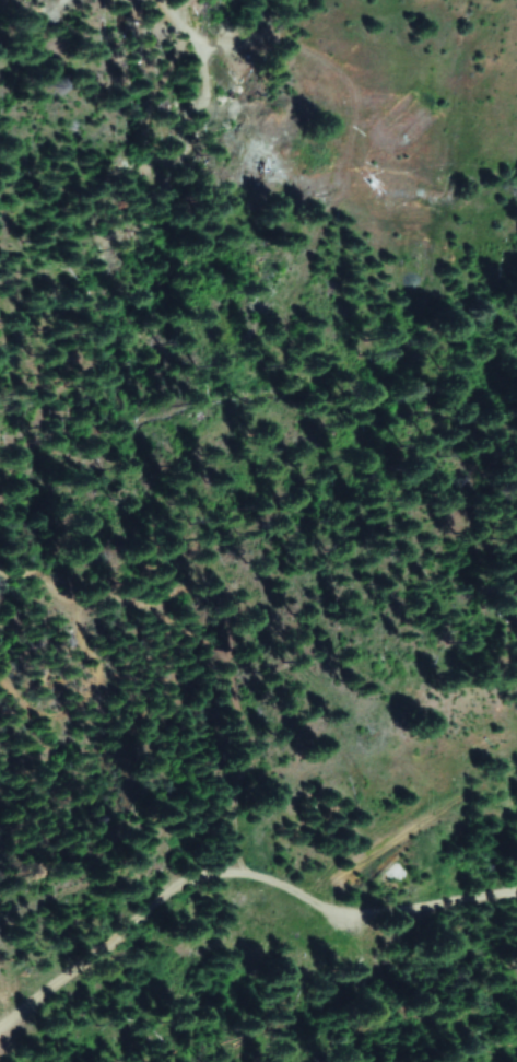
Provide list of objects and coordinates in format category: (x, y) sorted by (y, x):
road: (242, 892)

